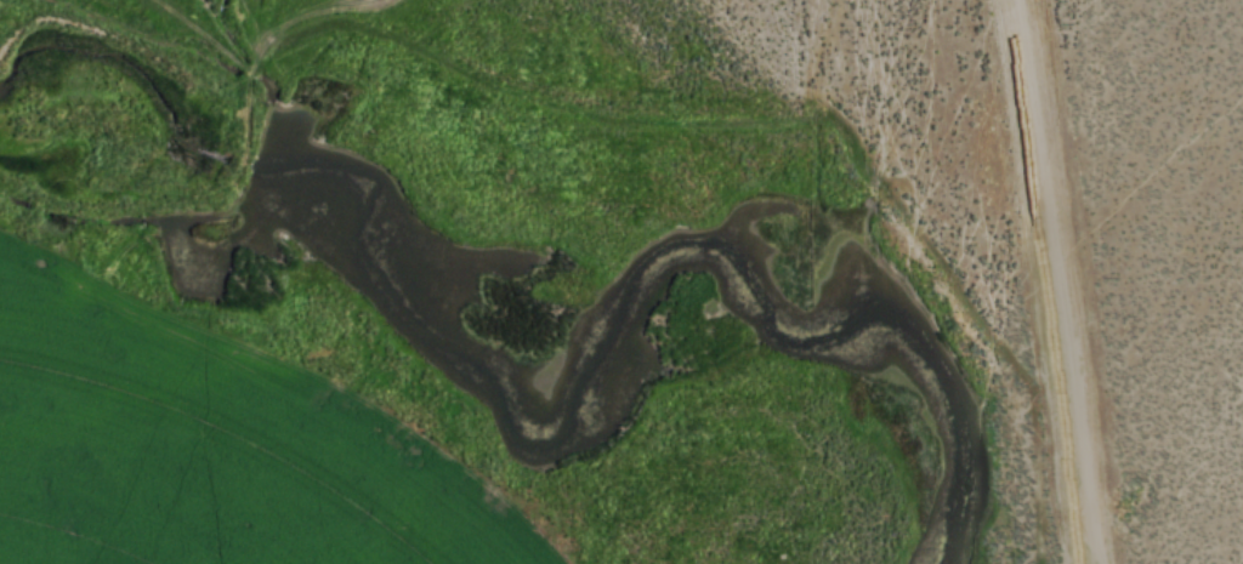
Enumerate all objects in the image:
road: (242, 106)
airport runway: (1052, 281)
road: (1039, 283)
road: (199, 372)
road: (1072, 528)

